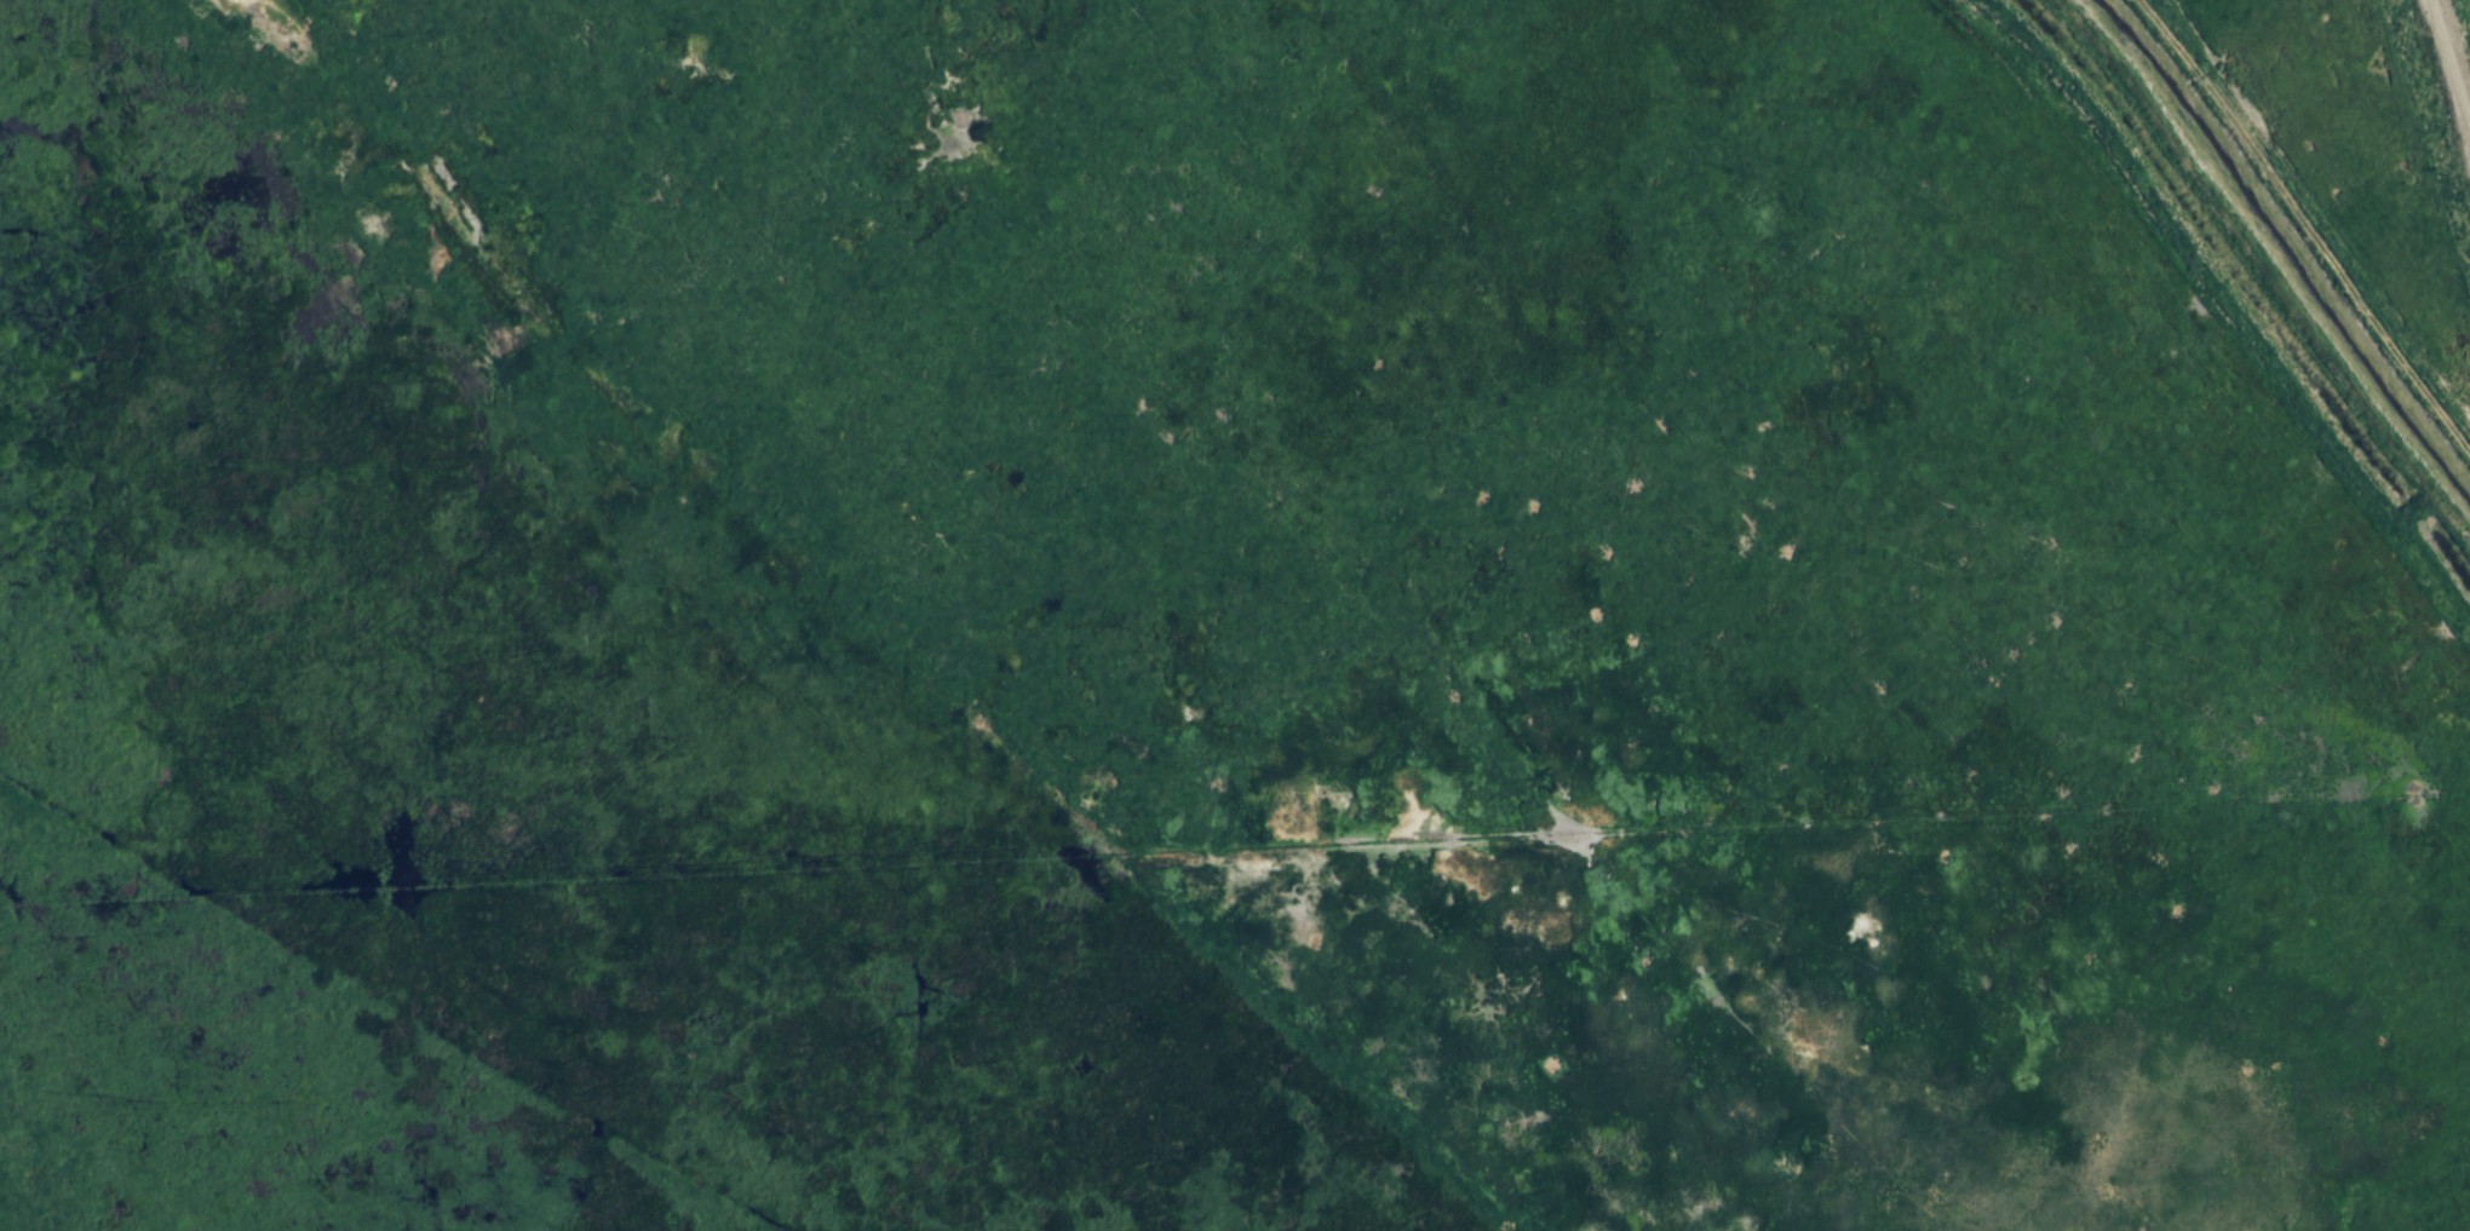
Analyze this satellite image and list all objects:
road: (2448, 71)

